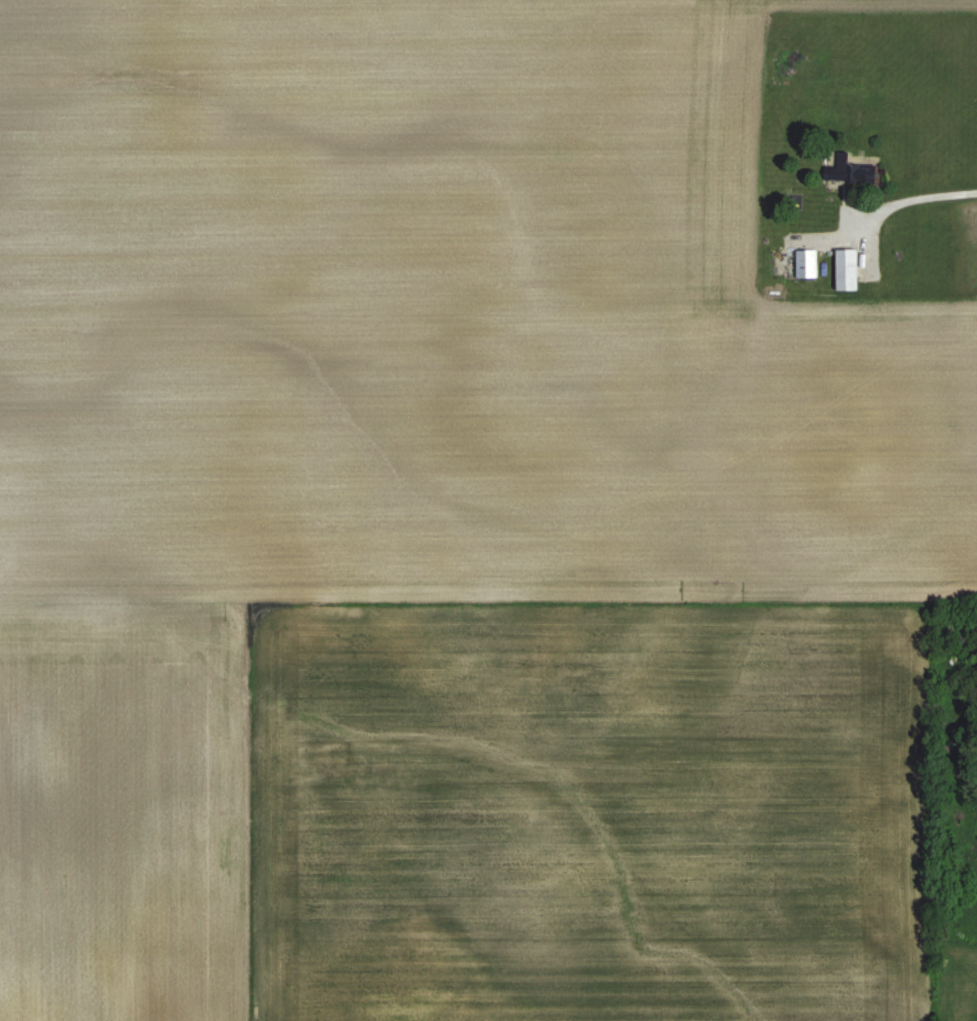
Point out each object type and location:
building: (847, 171)
road: (899, 198)
building: (804, 264)
building: (843, 270)
building: (976, 687)

